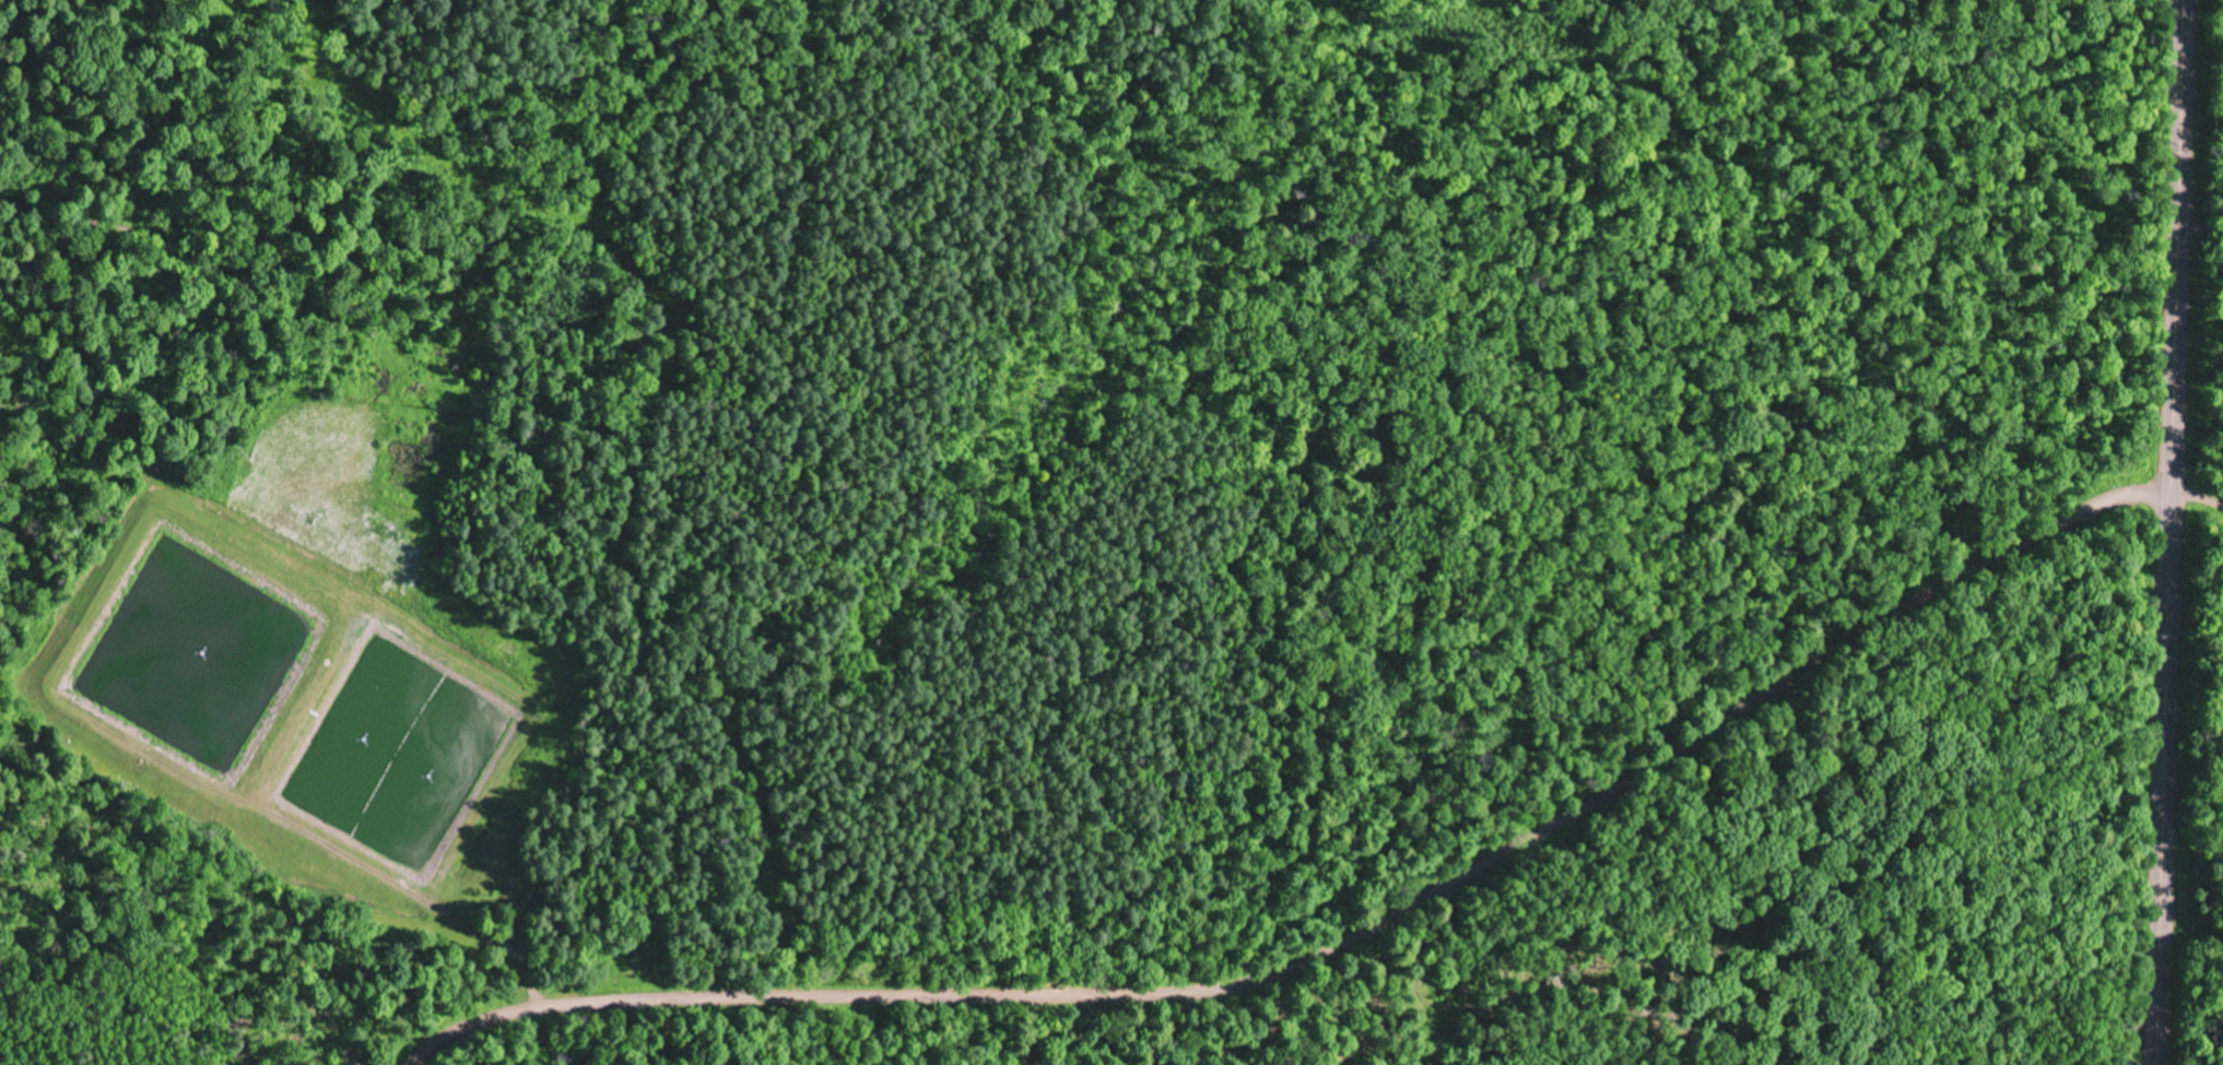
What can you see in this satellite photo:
road: (2160, 532)
road: (1332, 949)

